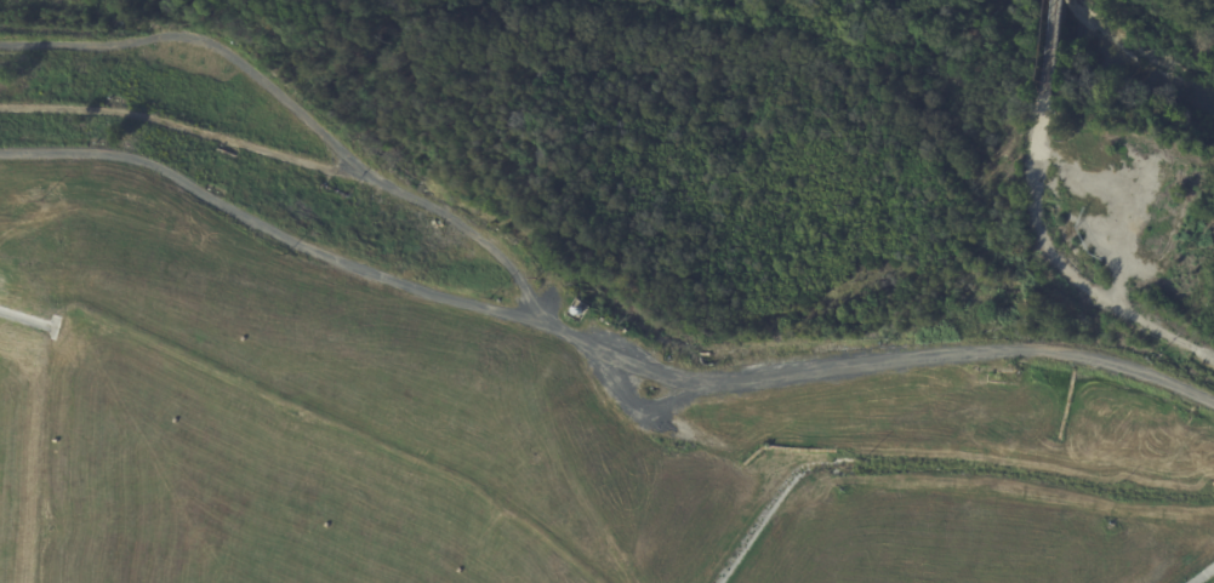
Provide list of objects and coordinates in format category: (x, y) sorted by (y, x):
park: (1164, 27)
road: (1049, 50)
river: (1122, 57)
road: (302, 118)
road: (187, 128)
road: (1062, 268)
road: (529, 324)
landfill: (475, 384)

